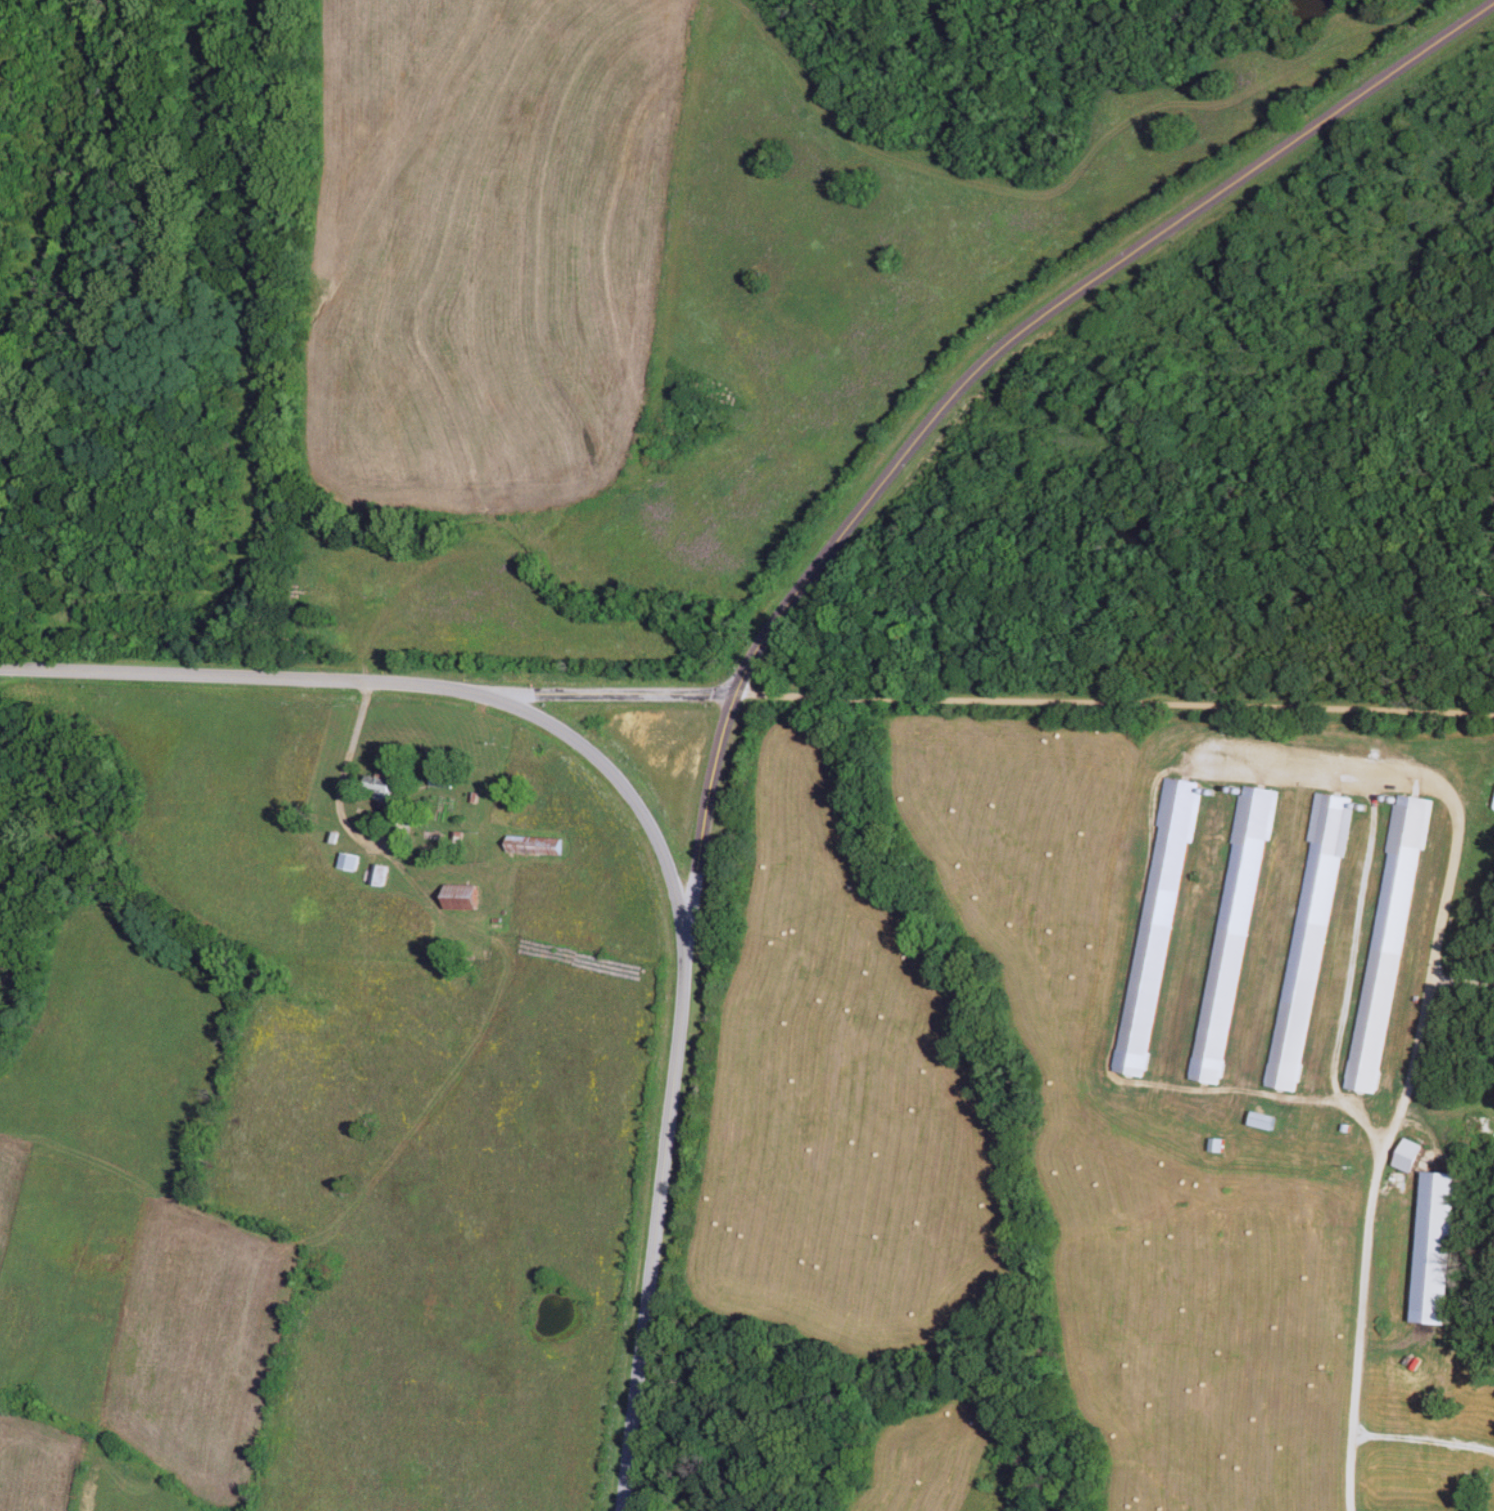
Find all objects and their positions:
road: (962, 384)
road: (606, 692)
road: (1114, 705)
road: (355, 741)
road: (1172, 749)
building: (440, 775)
building: (379, 790)
road: (647, 822)
road: (373, 842)
building: (531, 848)
building: (347, 863)
building: (377, 877)
building: (458, 899)
building: (1155, 928)
building: (1231, 936)
building: (1307, 943)
building: (1385, 945)
building: (1262, 1122)
building: (1405, 1157)
building: (1397, 1181)
building: (1432, 1249)
road: (1353, 1342)
building: (1469, 1477)

